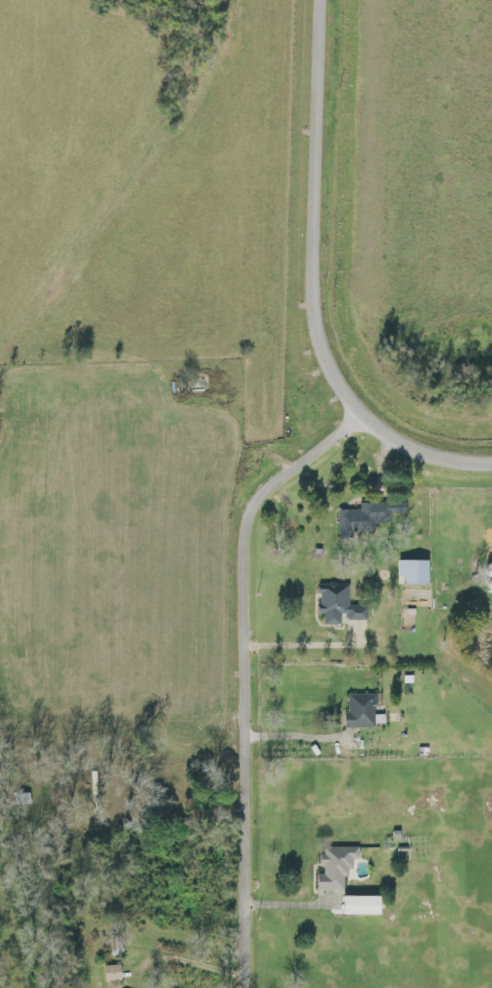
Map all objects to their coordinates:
road: (316, 284)
building: (369, 519)
building: (417, 573)
building: (341, 606)
road: (297, 645)
road: (248, 674)
building: (364, 711)
road: (299, 736)
building: (337, 868)
building: (365, 905)
building: (114, 973)

